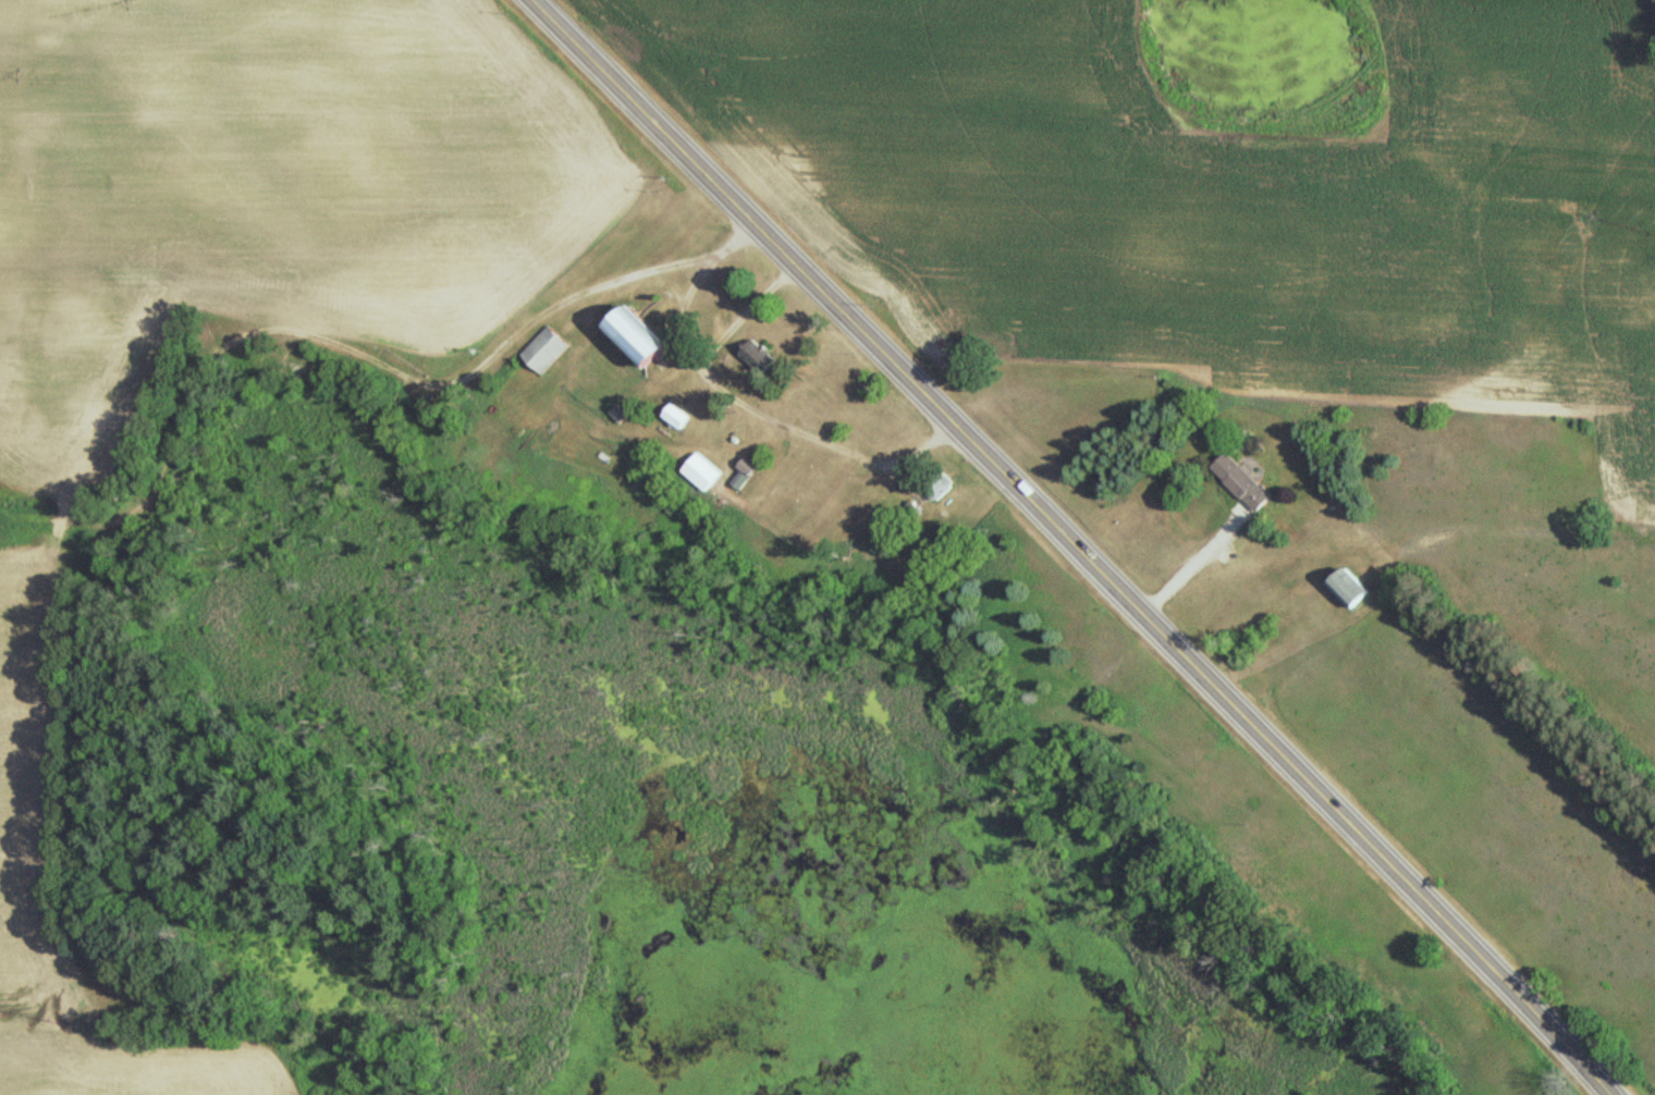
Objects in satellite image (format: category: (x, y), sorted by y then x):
building: (639, 339)
road: (350, 350)
building: (544, 352)
building: (759, 357)
road: (736, 401)
building: (676, 418)
building: (701, 473)
building: (1242, 483)
road: (1078, 544)
road: (1191, 564)
building: (1348, 591)

